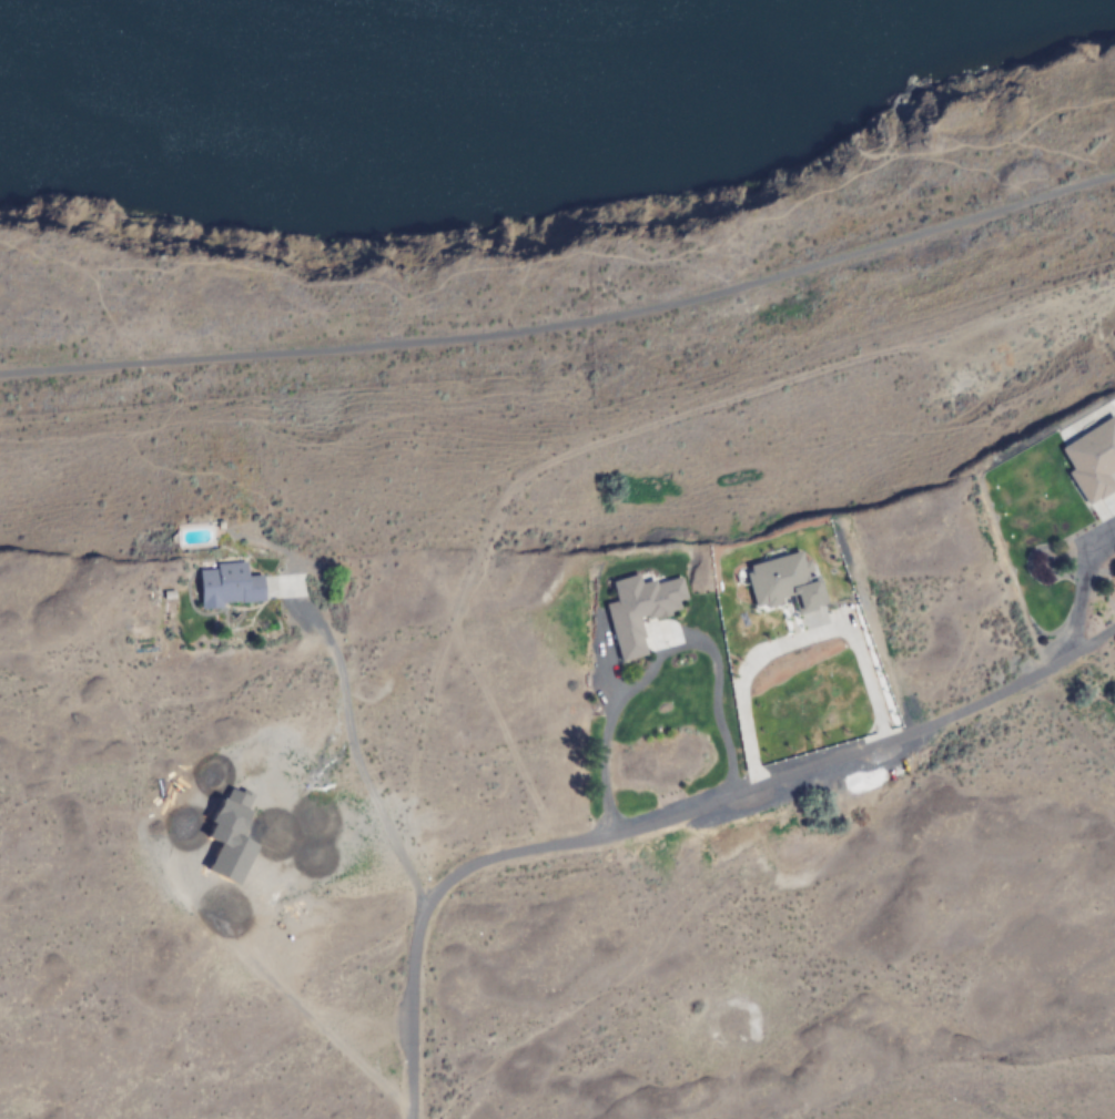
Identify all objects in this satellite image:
park: (544, 218)
road: (566, 324)
building: (1094, 462)
building: (785, 582)
building: (230, 587)
building: (642, 611)
road: (663, 818)

